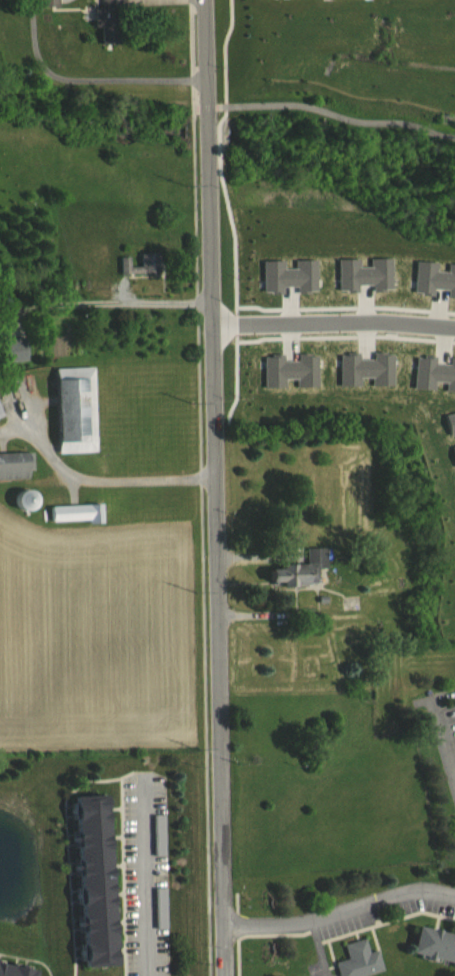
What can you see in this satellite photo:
building: (418, 0)
building: (277, 1)
building: (344, 1)
building: (105, 29)
road: (191, 59)
road: (87, 78)
road: (331, 112)
road: (228, 214)
building: (138, 274)
building: (362, 285)
building: (286, 287)
building: (433, 289)
road: (123, 300)
road: (332, 323)
building: (11, 360)
building: (364, 380)
building: (288, 381)
building: (433, 384)
building: (72, 424)
building: (0, 428)
building: (450, 434)
building: (453, 463)
building: (14, 476)
road: (97, 478)
road: (214, 487)
building: (75, 523)
road: (201, 540)
building: (298, 580)
road: (446, 732)
road: (145, 880)
building: (91, 891)
road: (340, 912)
building: (436, 944)
building: (363, 960)
building: (5, 975)

